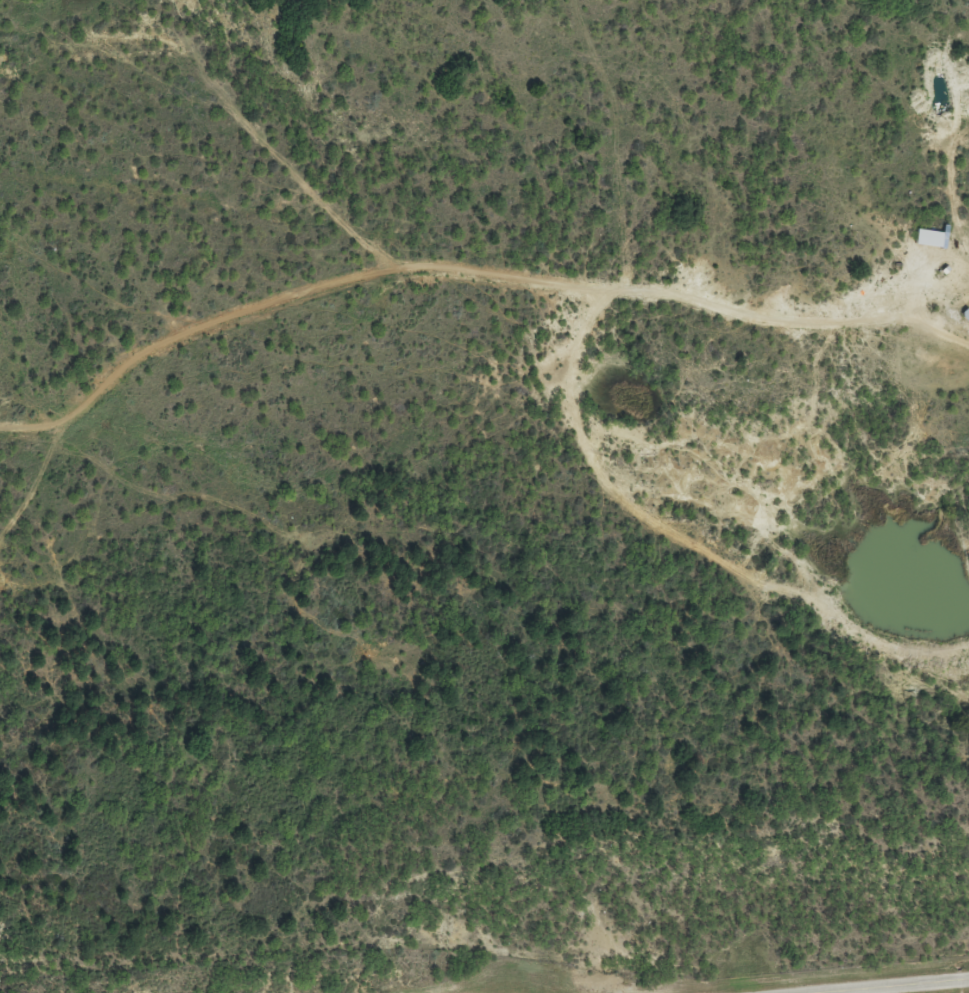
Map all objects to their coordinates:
building: (926, 246)
road: (943, 341)
road: (905, 986)

